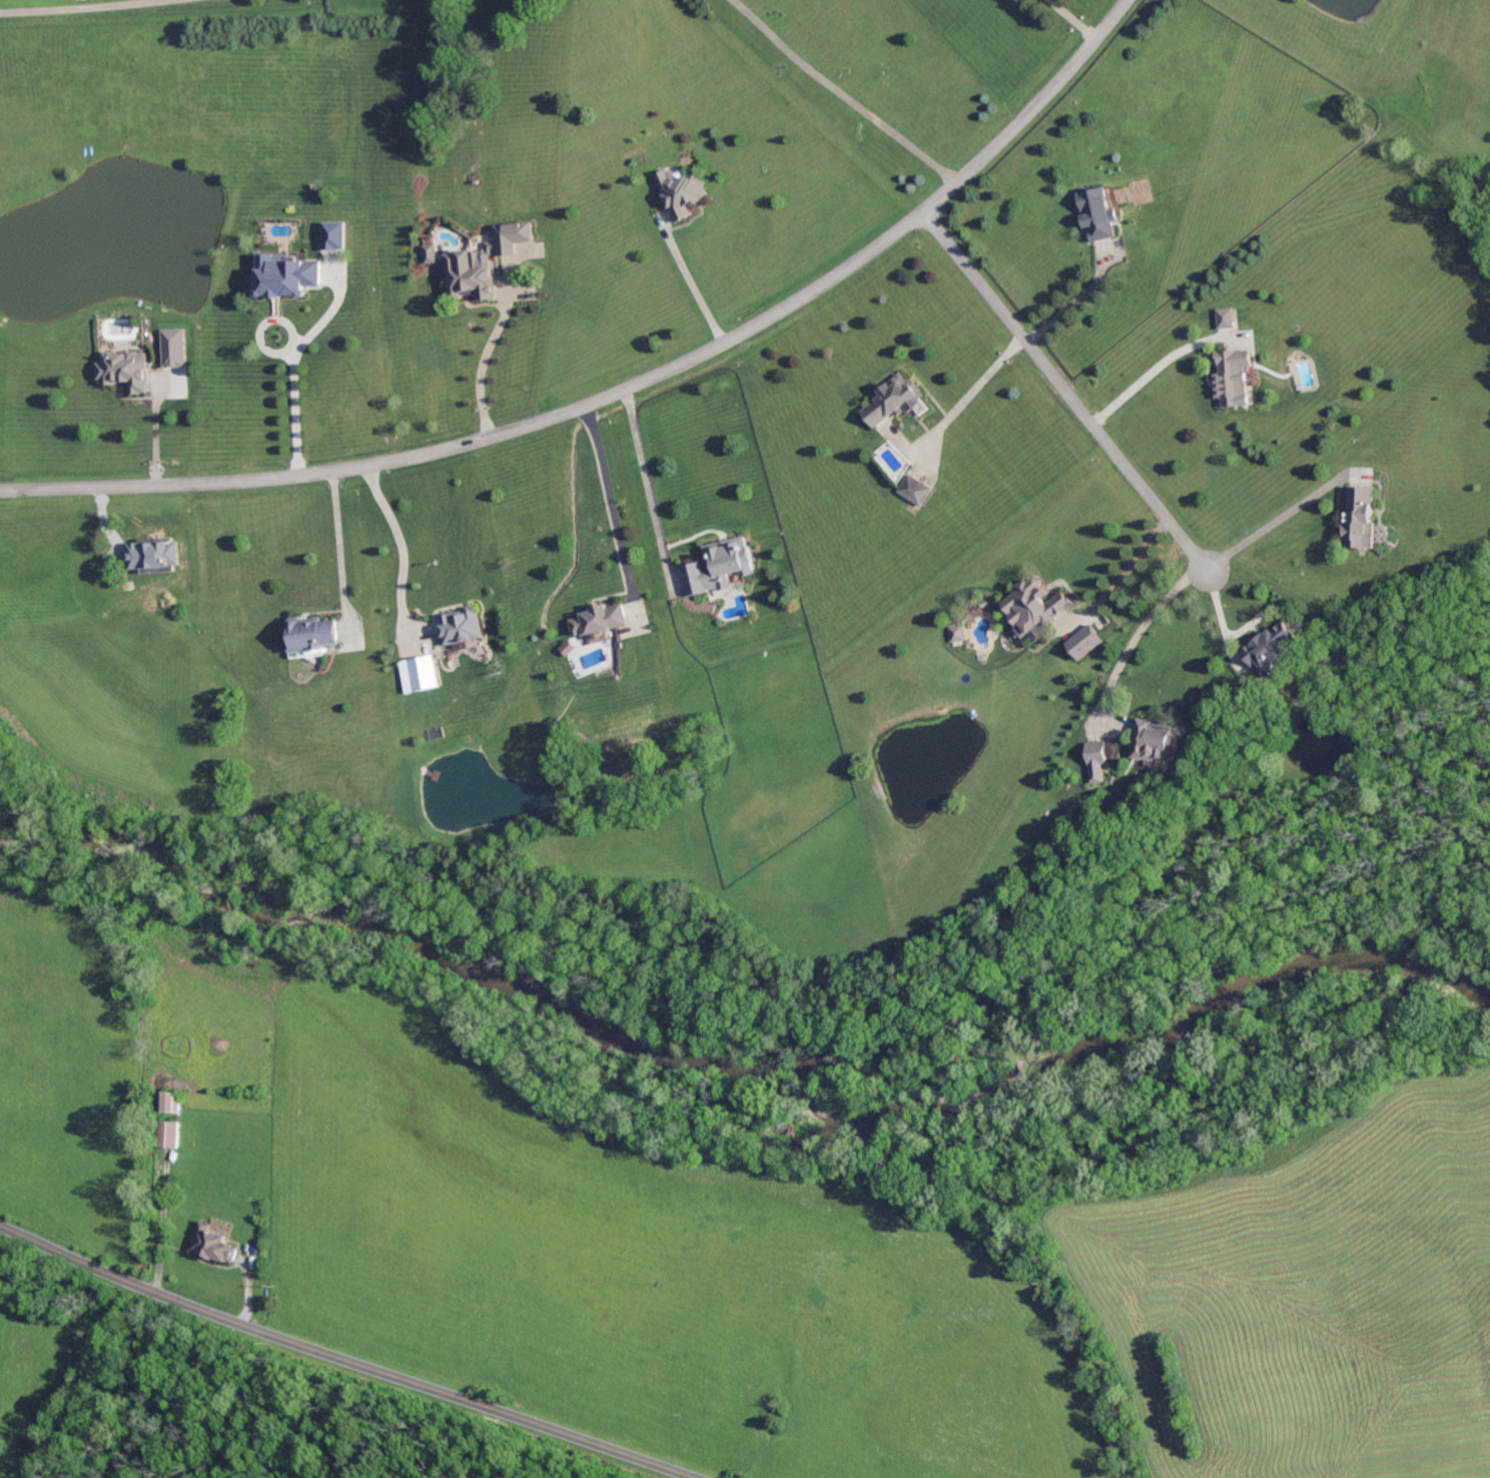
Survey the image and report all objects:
road: (74, 7)
road: (1073, 19)
road: (841, 92)
building: (684, 195)
building: (1098, 215)
building: (331, 235)
building: (512, 237)
building: (427, 254)
building: (286, 276)
building: (469, 276)
road: (694, 282)
road: (1074, 302)
building: (1224, 319)
building: (172, 348)
road: (478, 350)
building: (125, 371)
road: (1140, 371)
road: (623, 378)
building: (1233, 378)
road: (1059, 383)
road: (975, 385)
road: (294, 394)
building: (893, 401)
road: (646, 478)
building: (916, 491)
road: (604, 492)
building: (1361, 518)
road: (1264, 519)
road: (331, 531)
road: (394, 539)
building: (153, 555)
building: (719, 567)
road: (1118, 568)
building: (1035, 609)
road: (1214, 610)
road: (1138, 619)
building: (600, 620)
building: (462, 627)
building: (310, 634)
building: (955, 634)
building: (1271, 649)
building: (421, 675)
building: (1156, 742)
building: (1098, 754)
building: (170, 1103)
river: (727, 1121)
building: (168, 1136)
road: (161, 1223)
building: (212, 1245)
road: (342, 1360)

